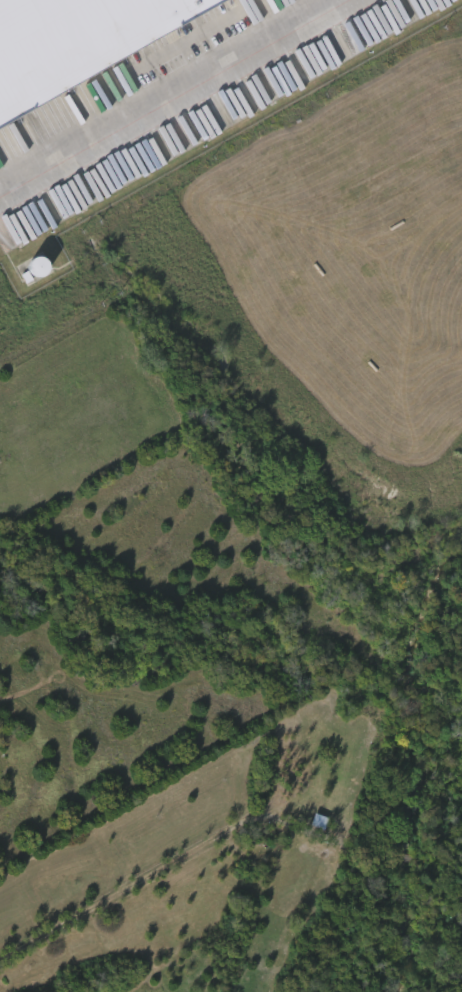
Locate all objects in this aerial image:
building: (74, 42)
building: (287, 84)
building: (263, 90)
road: (168, 96)

